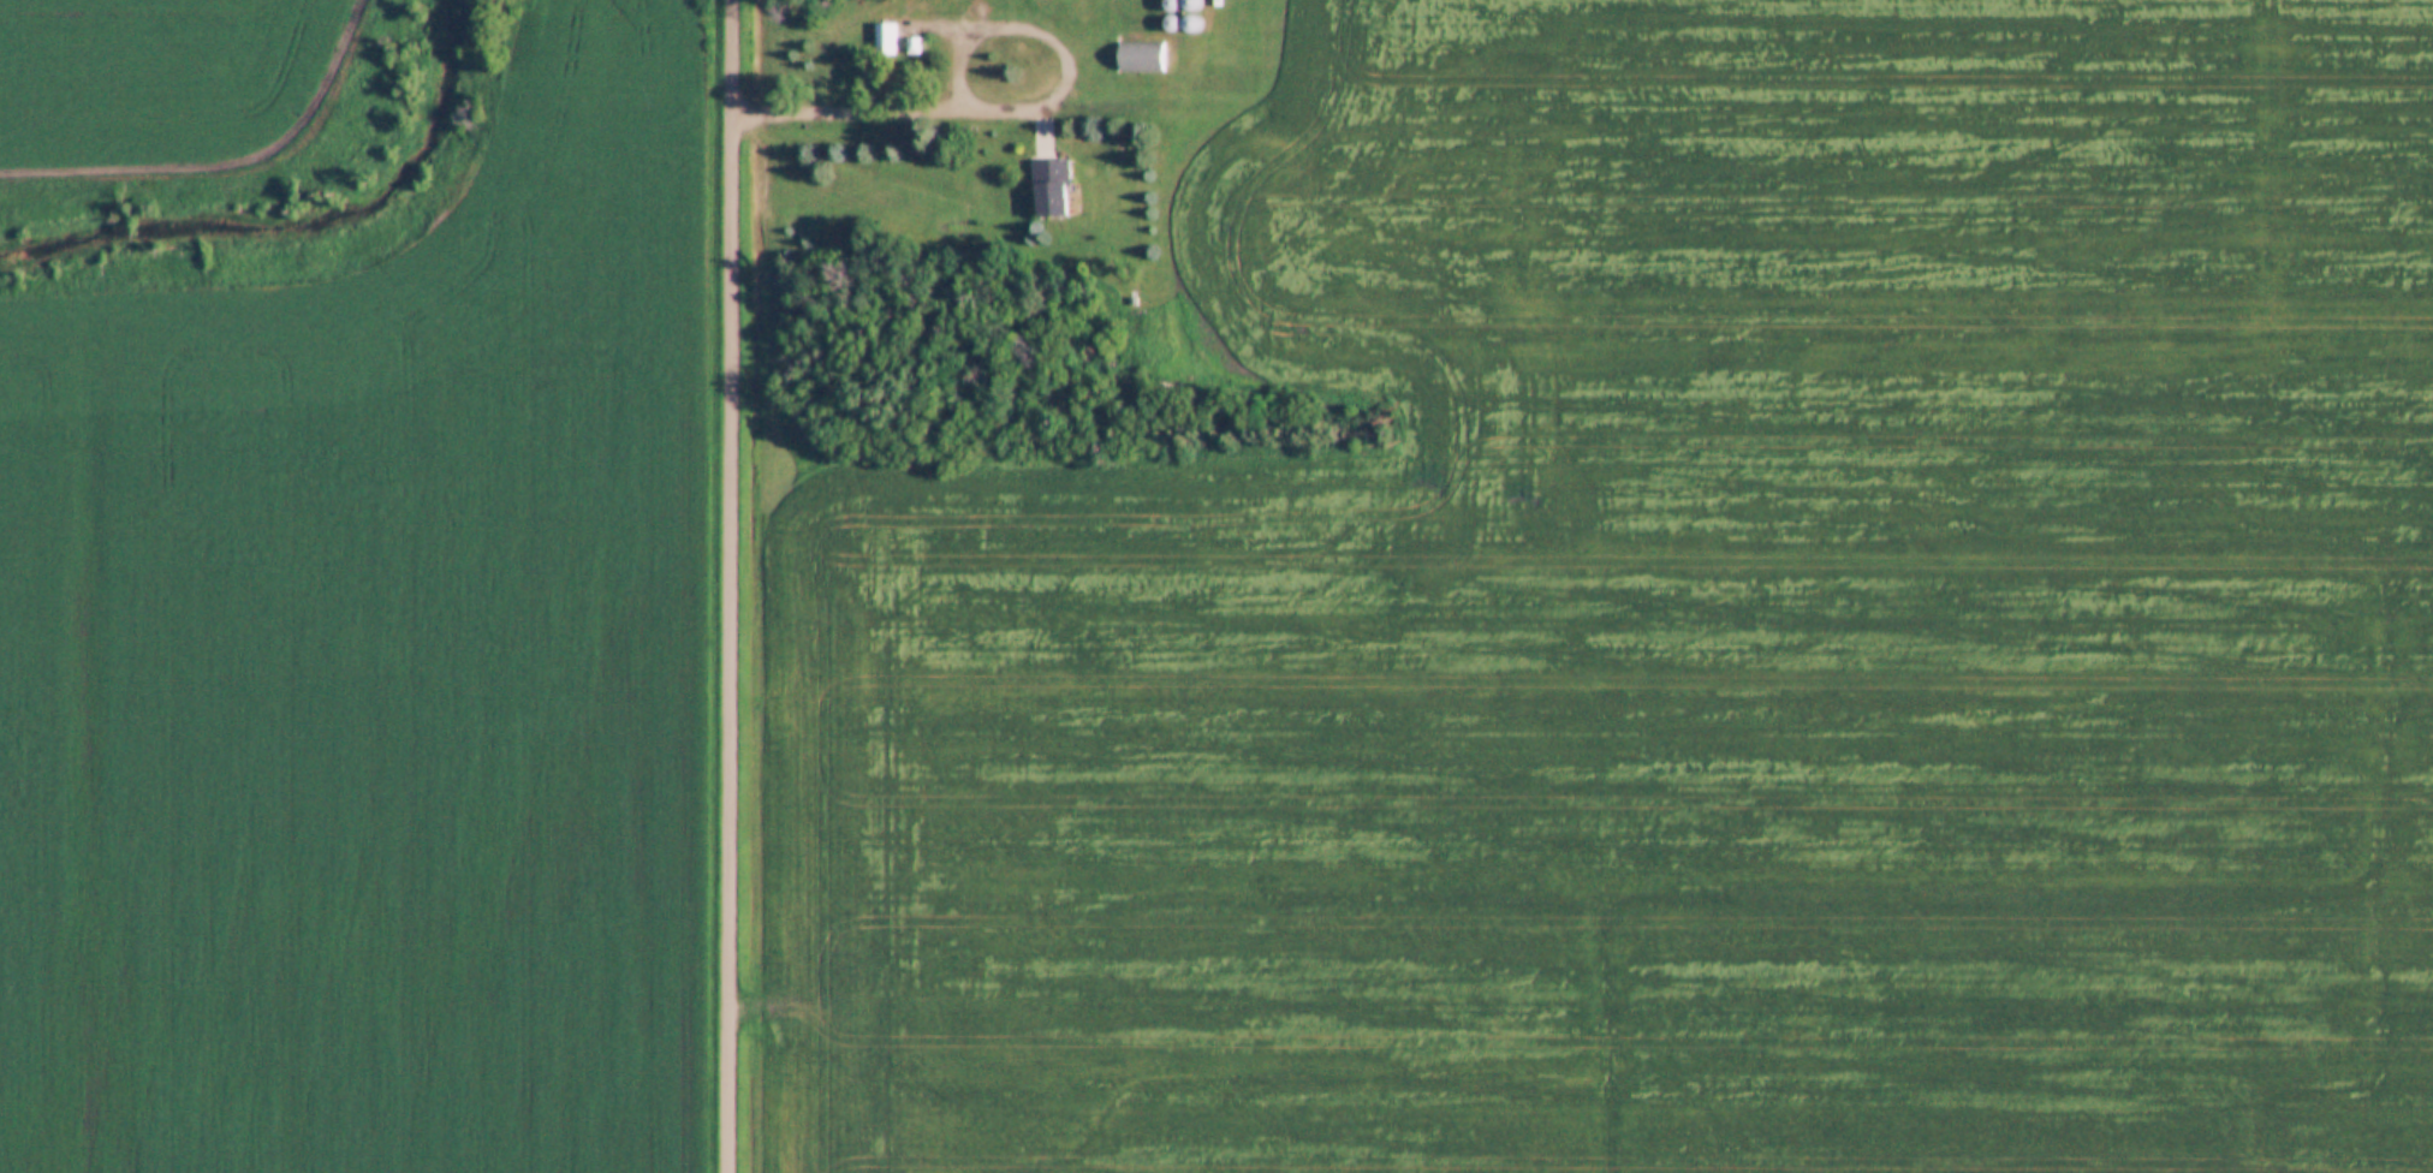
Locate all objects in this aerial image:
building: (1171, 2)
silo: (1171, 2)
building: (1192, 2)
silo: (1192, 2)
building: (1171, 22)
silo: (1171, 22)
building: (1192, 22)
silo: (1192, 22)
road: (934, 29)
building: (882, 38)
building: (912, 44)
building: (1137, 56)
road: (953, 58)
road: (986, 112)
road: (756, 115)
building: (1051, 187)
road: (731, 585)

